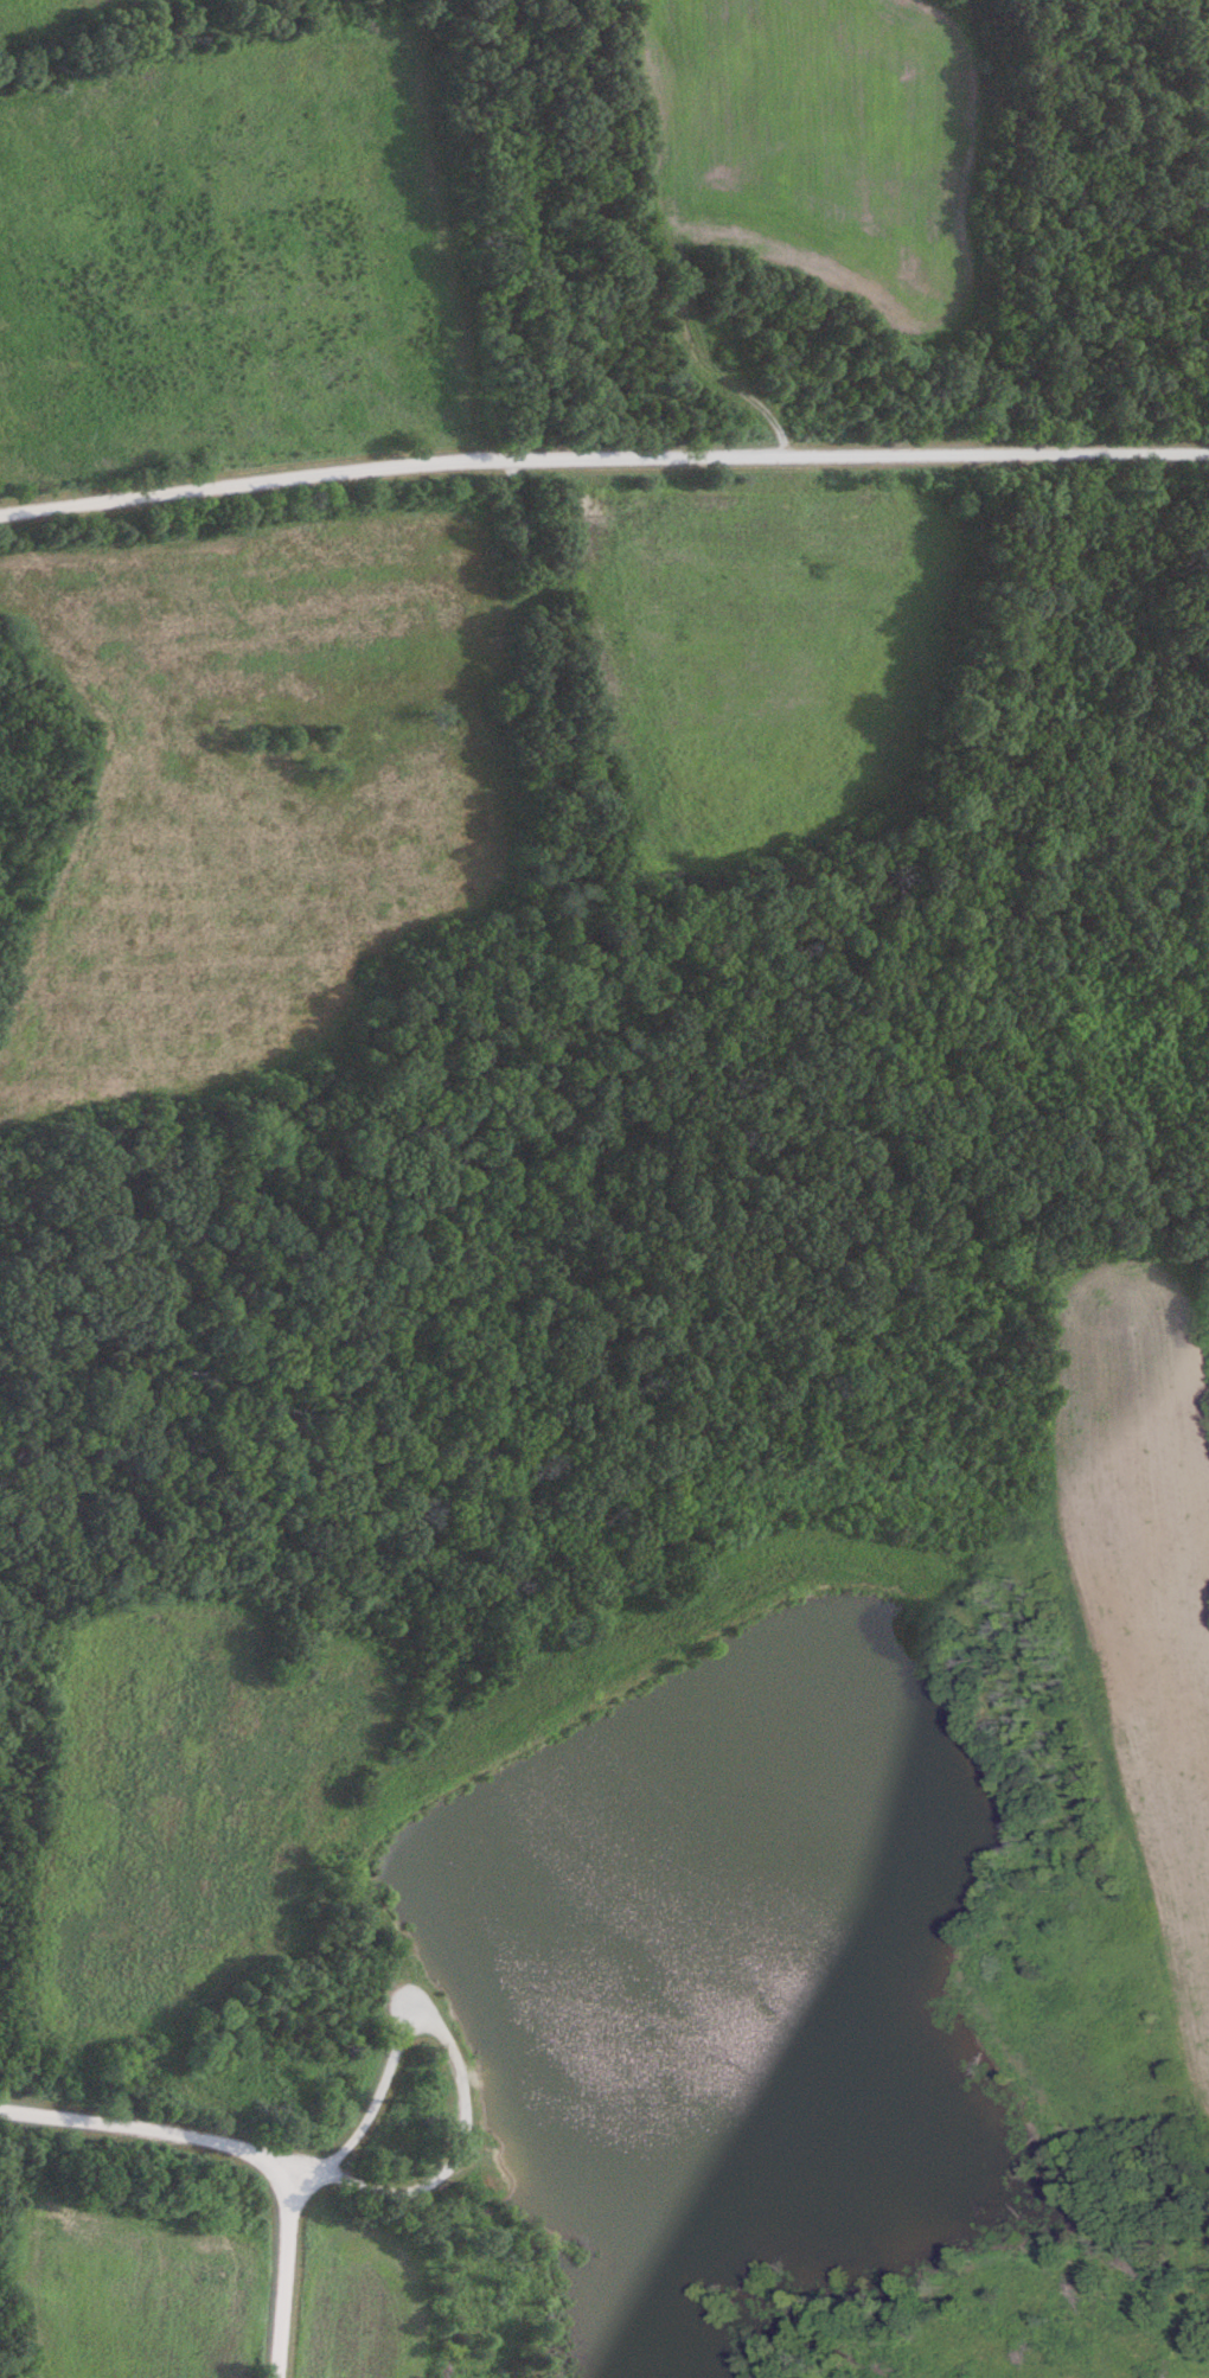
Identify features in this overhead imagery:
road: (602, 455)
dam: (634, 1687)
parking lot: (409, 2002)
road: (459, 2063)
road: (244, 2146)
road: (300, 2173)

